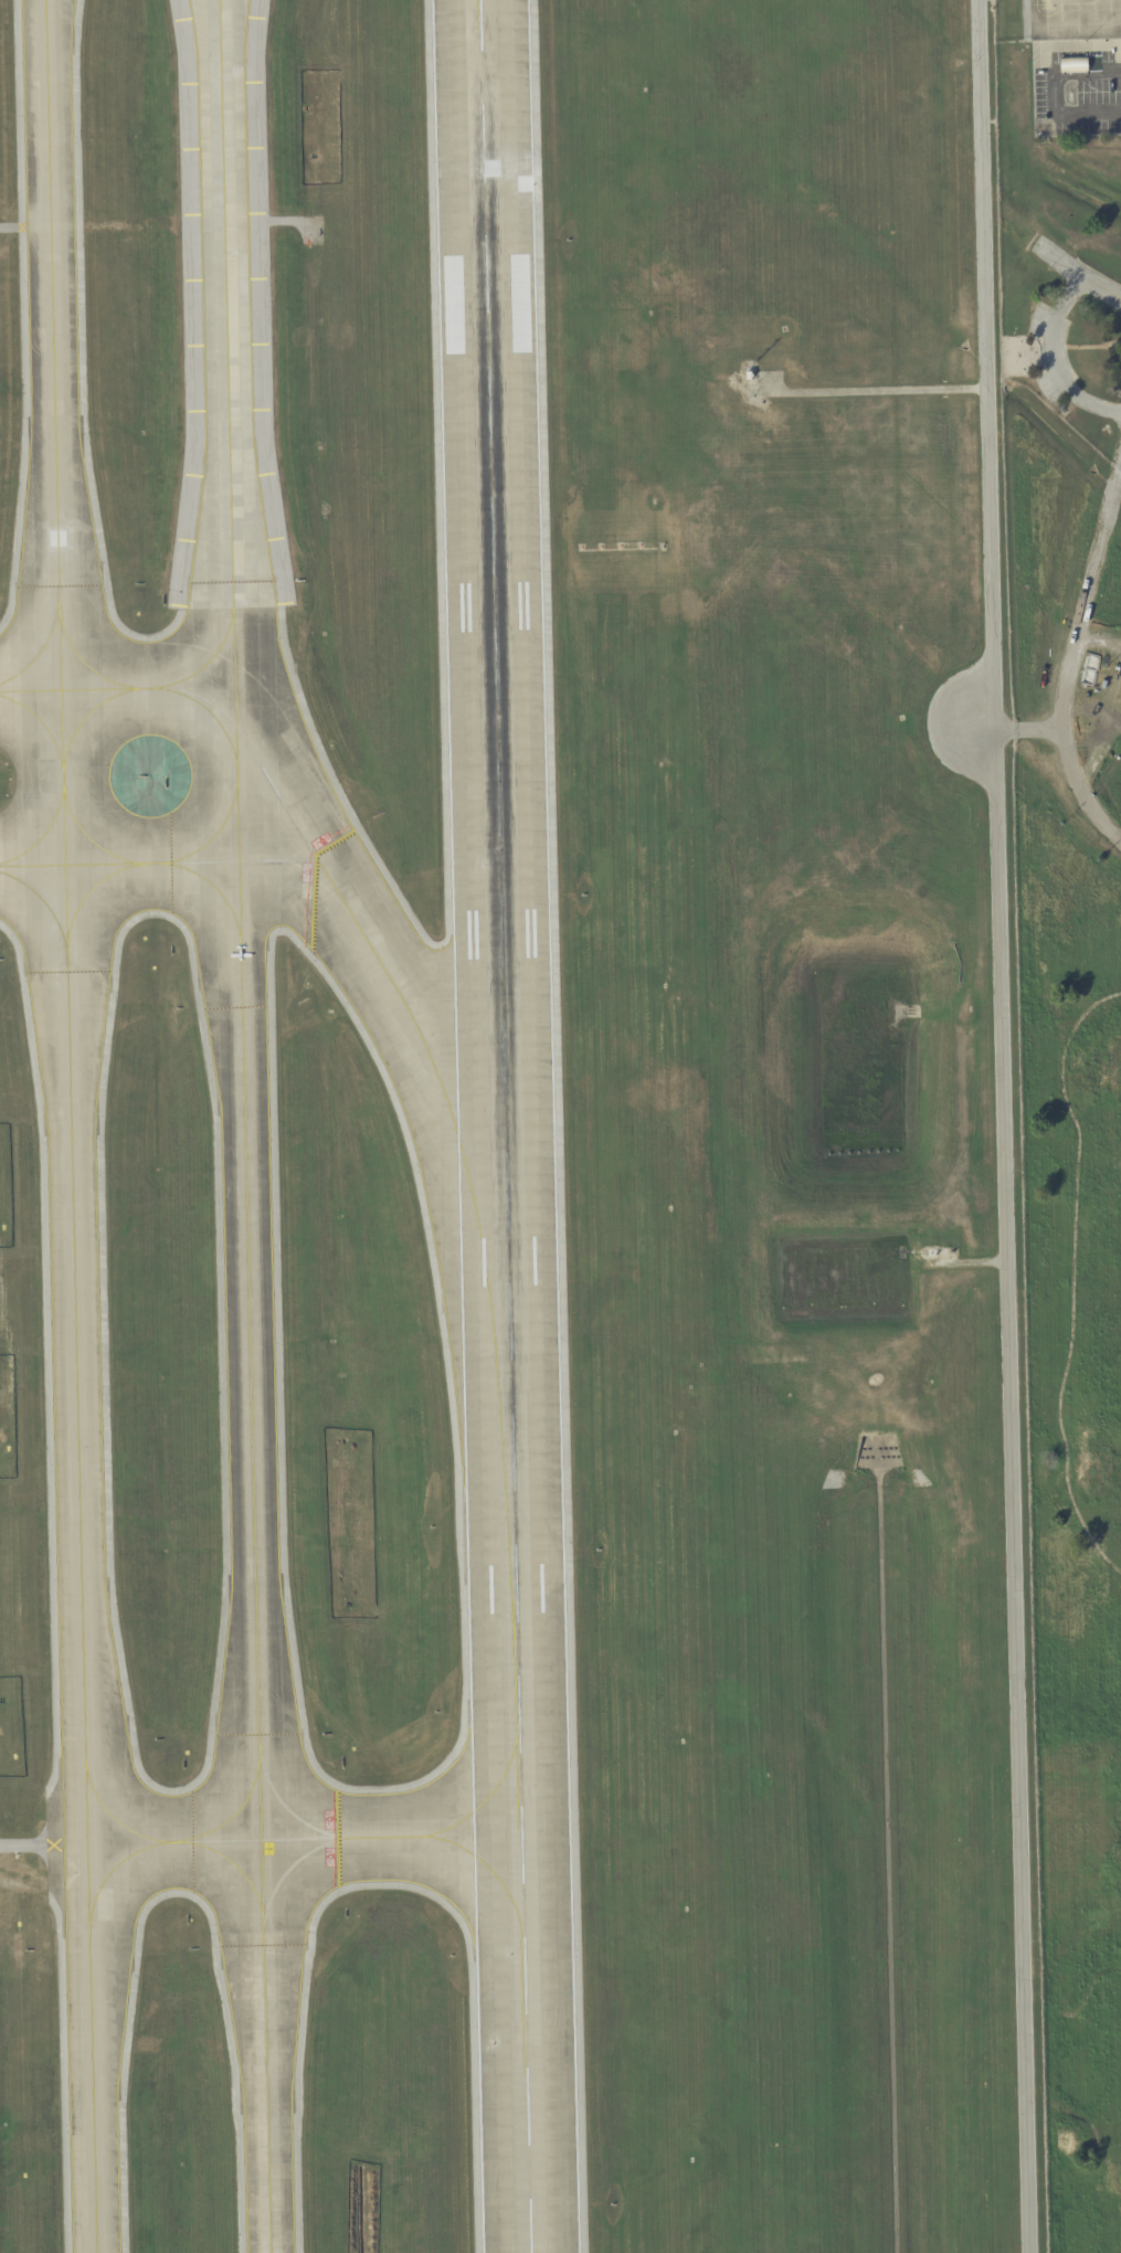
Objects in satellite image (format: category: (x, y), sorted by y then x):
airport apron: (1076, 20)
road: (1057, 91)
road: (1079, 274)
parking lot: (1054, 351)
road: (1055, 359)
building: (750, 375)
airport taxiway: (225, 382)
airport taxiway: (40, 648)
airport taxiway: (211, 656)
road: (1076, 659)
airport taxiway: (84, 663)
airport taxiway: (84, 716)
airport taxiway: (237, 720)
airport taxiway: (41, 722)
road: (1033, 724)
airport taxiway: (42, 833)
airport taxiway: (212, 836)
airport taxiway: (87, 837)
airport taxiway: (158, 863)
airport taxiway: (213, 887)
airport taxiway: (87, 890)
airport taxiway: (44, 902)
airport taxiway: (432, 1067)
airport taxiway: (70, 1125)
road: (1004, 1125)
airport runway: (504, 1126)
airport: (560, 1126)
building: (952, 1254)
airport taxiway: (251, 1450)
airport taxiway: (514, 1743)
airport taxiway: (286, 1808)
airport taxiway: (232, 1813)
airport taxiway: (379, 1837)
airport taxiway: (234, 1864)
airport taxiway: (289, 1865)
airport taxiway: (112, 1868)

